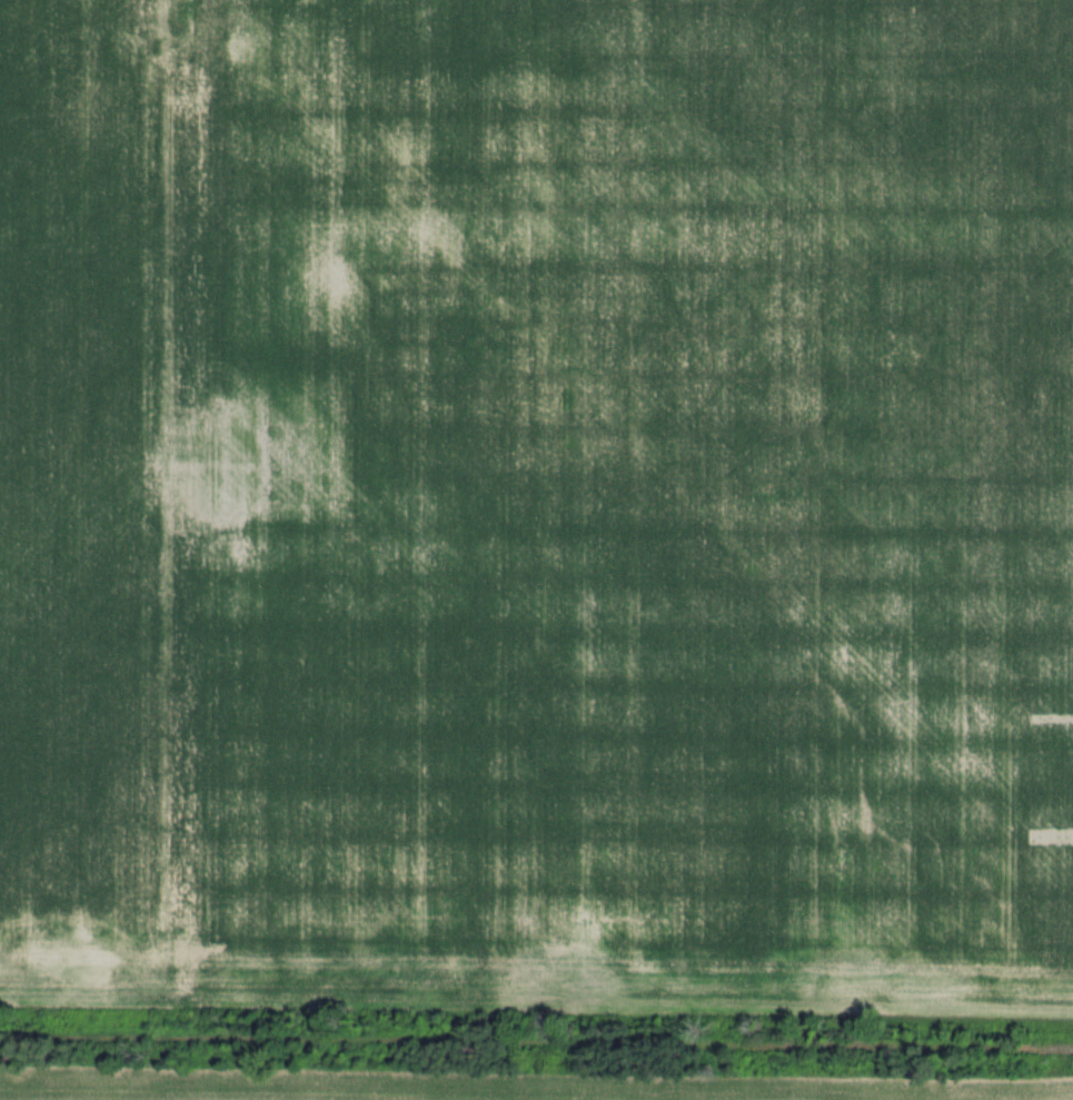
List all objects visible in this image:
railway: (536, 1042)

